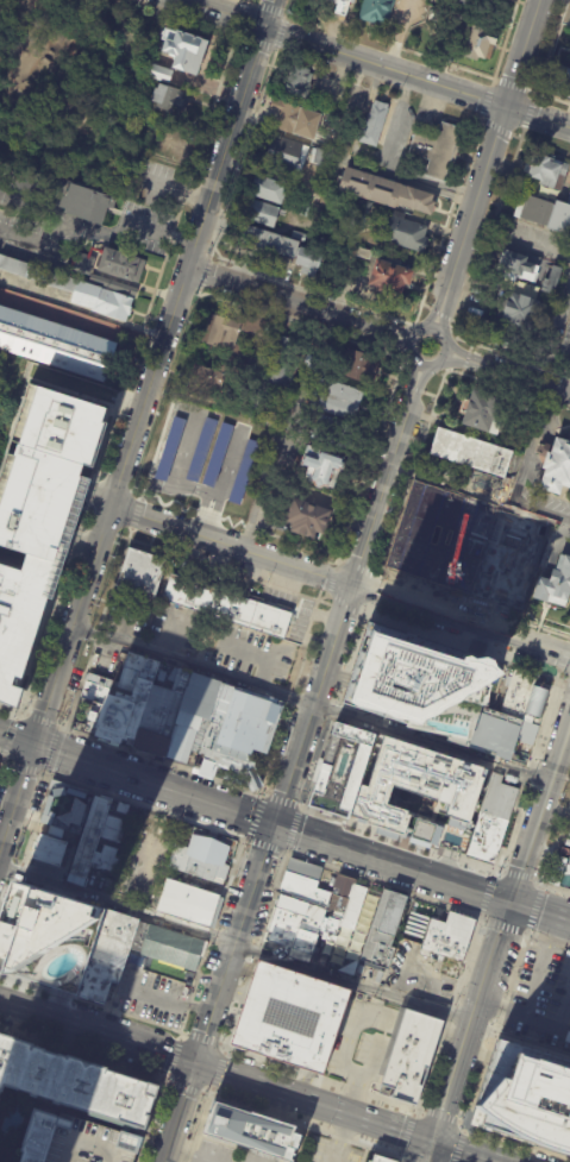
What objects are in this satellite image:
road: (240, 0)
road: (244, 1)
road: (248, 1)
building: (344, 2)
building: (478, 4)
road: (268, 8)
building: (374, 10)
road: (217, 14)
road: (269, 14)
road: (240, 15)
road: (186, 17)
road: (280, 33)
road: (505, 40)
road: (257, 43)
building: (478, 43)
road: (549, 49)
building: (187, 50)
road: (446, 64)
building: (158, 71)
road: (416, 78)
building: (300, 81)
building: (562, 82)
park: (74, 84)
road: (511, 86)
building: (171, 98)
road: (549, 98)
road: (487, 99)
road: (527, 113)
building: (296, 119)
building: (374, 124)
road: (496, 125)
road: (494, 140)
road: (540, 144)
road: (225, 150)
building: (439, 150)
road: (242, 153)
building: (284, 155)
building: (322, 157)
building: (549, 170)
building: (270, 189)
building: (387, 190)
building: (569, 197)
building: (87, 202)
building: (305, 208)
building: (262, 213)
building: (362, 213)
building: (547, 213)
road: (446, 220)
road: (63, 225)
road: (132, 226)
building: (402, 232)
road: (489, 232)
building: (275, 240)
road: (518, 243)
building: (364, 252)
building: (309, 262)
building: (84, 264)
building: (123, 264)
building: (521, 266)
road: (203, 271)
building: (392, 277)
building: (553, 281)
building: (114, 285)
building: (75, 289)
road: (311, 290)
road: (274, 297)
building: (550, 303)
road: (425, 304)
road: (436, 306)
road: (444, 308)
building: (521, 312)
road: (438, 313)
road: (390, 321)
road: (295, 322)
road: (453, 322)
road: (551, 325)
road: (388, 328)
building: (231, 329)
road: (418, 329)
road: (386, 333)
road: (384, 339)
road: (137, 340)
building: (56, 344)
road: (470, 346)
road: (381, 347)
road: (469, 354)
road: (511, 357)
road: (466, 359)
road: (464, 363)
building: (252, 365)
building: (361, 366)
road: (462, 371)
building: (280, 376)
road: (531, 381)
building: (203, 382)
road: (397, 384)
road: (411, 384)
road: (495, 384)
road: (566, 384)
road: (148, 388)
road: (412, 388)
road: (419, 388)
road: (430, 394)
building: (331, 398)
road: (64, 413)
building: (486, 413)
building: (268, 421)
building: (168, 448)
building: (200, 450)
building: (472, 453)
building: (217, 454)
parking lot: (203, 456)
road: (368, 460)
building: (322, 466)
building: (44, 469)
parking garage: (44, 469)
building: (558, 469)
building: (243, 471)
road: (411, 473)
road: (111, 485)
road: (193, 486)
road: (138, 489)
road: (88, 490)
road: (134, 490)
road: (480, 496)
road: (136, 514)
road: (209, 514)
building: (308, 519)
road: (236, 523)
road: (6, 526)
road: (129, 534)
road: (121, 536)
building: (452, 539)
road: (77, 541)
road: (412, 549)
road: (484, 561)
road: (359, 567)
road: (221, 569)
building: (518, 569)
building: (143, 573)
road: (330, 578)
road: (339, 579)
building: (555, 580)
road: (440, 584)
road: (371, 592)
parking lot: (278, 597)
road: (321, 597)
road: (347, 601)
road: (322, 602)
road: (474, 605)
building: (227, 607)
building: (19, 620)
road: (125, 622)
parking lot: (299, 622)
road: (96, 633)
road: (170, 635)
road: (464, 647)
parking lot: (242, 652)
road: (245, 653)
road: (55, 676)
road: (26, 683)
building: (416, 684)
road: (289, 696)
road: (309, 702)
road: (334, 708)
road: (8, 709)
building: (148, 710)
road: (20, 714)
road: (15, 716)
road: (40, 721)
building: (502, 721)
road: (61, 727)
road: (7, 737)
road: (15, 741)
traffic signals: (32, 748)
road: (49, 748)
road: (40, 750)
building: (228, 753)
road: (2, 760)
road: (161, 760)
road: (1, 761)
road: (5, 764)
road: (1, 765)
road: (25, 770)
building: (340, 770)
road: (526, 770)
road: (287, 786)
road: (261, 793)
building: (453, 794)
road: (281, 802)
road: (143, 805)
building: (123, 808)
road: (556, 808)
building: (73, 809)
road: (301, 809)
road: (540, 809)
road: (255, 817)
building: (490, 821)
traffic signals: (276, 825)
road: (280, 827)
road: (292, 830)
road: (245, 838)
road: (397, 838)
road: (0, 842)
building: (89, 842)
road: (555, 842)
building: (54, 846)
road: (265, 846)
road: (286, 854)
building: (198, 856)
road: (493, 869)
building: (559, 869)
road: (15, 880)
building: (305, 881)
road: (383, 884)
road: (556, 888)
building: (345, 894)
traffic signals: (511, 902)
building: (187, 904)
road: (540, 911)
building: (382, 928)
building: (294, 929)
road: (526, 931)
road: (212, 935)
building: (447, 935)
building: (49, 938)
road: (259, 938)
road: (547, 938)
road: (236, 944)
building: (173, 948)
building: (107, 955)
road: (539, 967)
building: (370, 972)
building: (380, 978)
road: (89, 1003)
road: (446, 1012)
building: (286, 1017)
road: (522, 1019)
road: (471, 1022)
road: (494, 1029)
road: (182, 1032)
road: (178, 1035)
road: (227, 1036)
road: (200, 1038)
road: (224, 1050)
road: (83, 1051)
road: (173, 1055)
building: (409, 1056)
traffic signals: (194, 1064)
road: (217, 1069)
road: (217, 1072)
road: (165, 1075)
road: (320, 1079)
building: (75, 1082)
road: (169, 1082)
road: (184, 1088)
road: (209, 1091)
road: (201, 1094)
building: (525, 1098)
road: (440, 1118)
road: (154, 1122)
parking lot: (186, 1125)
road: (303, 1126)
road: (193, 1128)
parking lot: (157, 1131)
building: (249, 1132)
road: (411, 1135)
building: (77, 1141)
traffic signals: (433, 1142)
road: (516, 1143)
road: (457, 1144)
road: (430, 1151)
road: (463, 1151)
building: (378, 1158)
road: (402, 1160)
road: (407, 1160)

